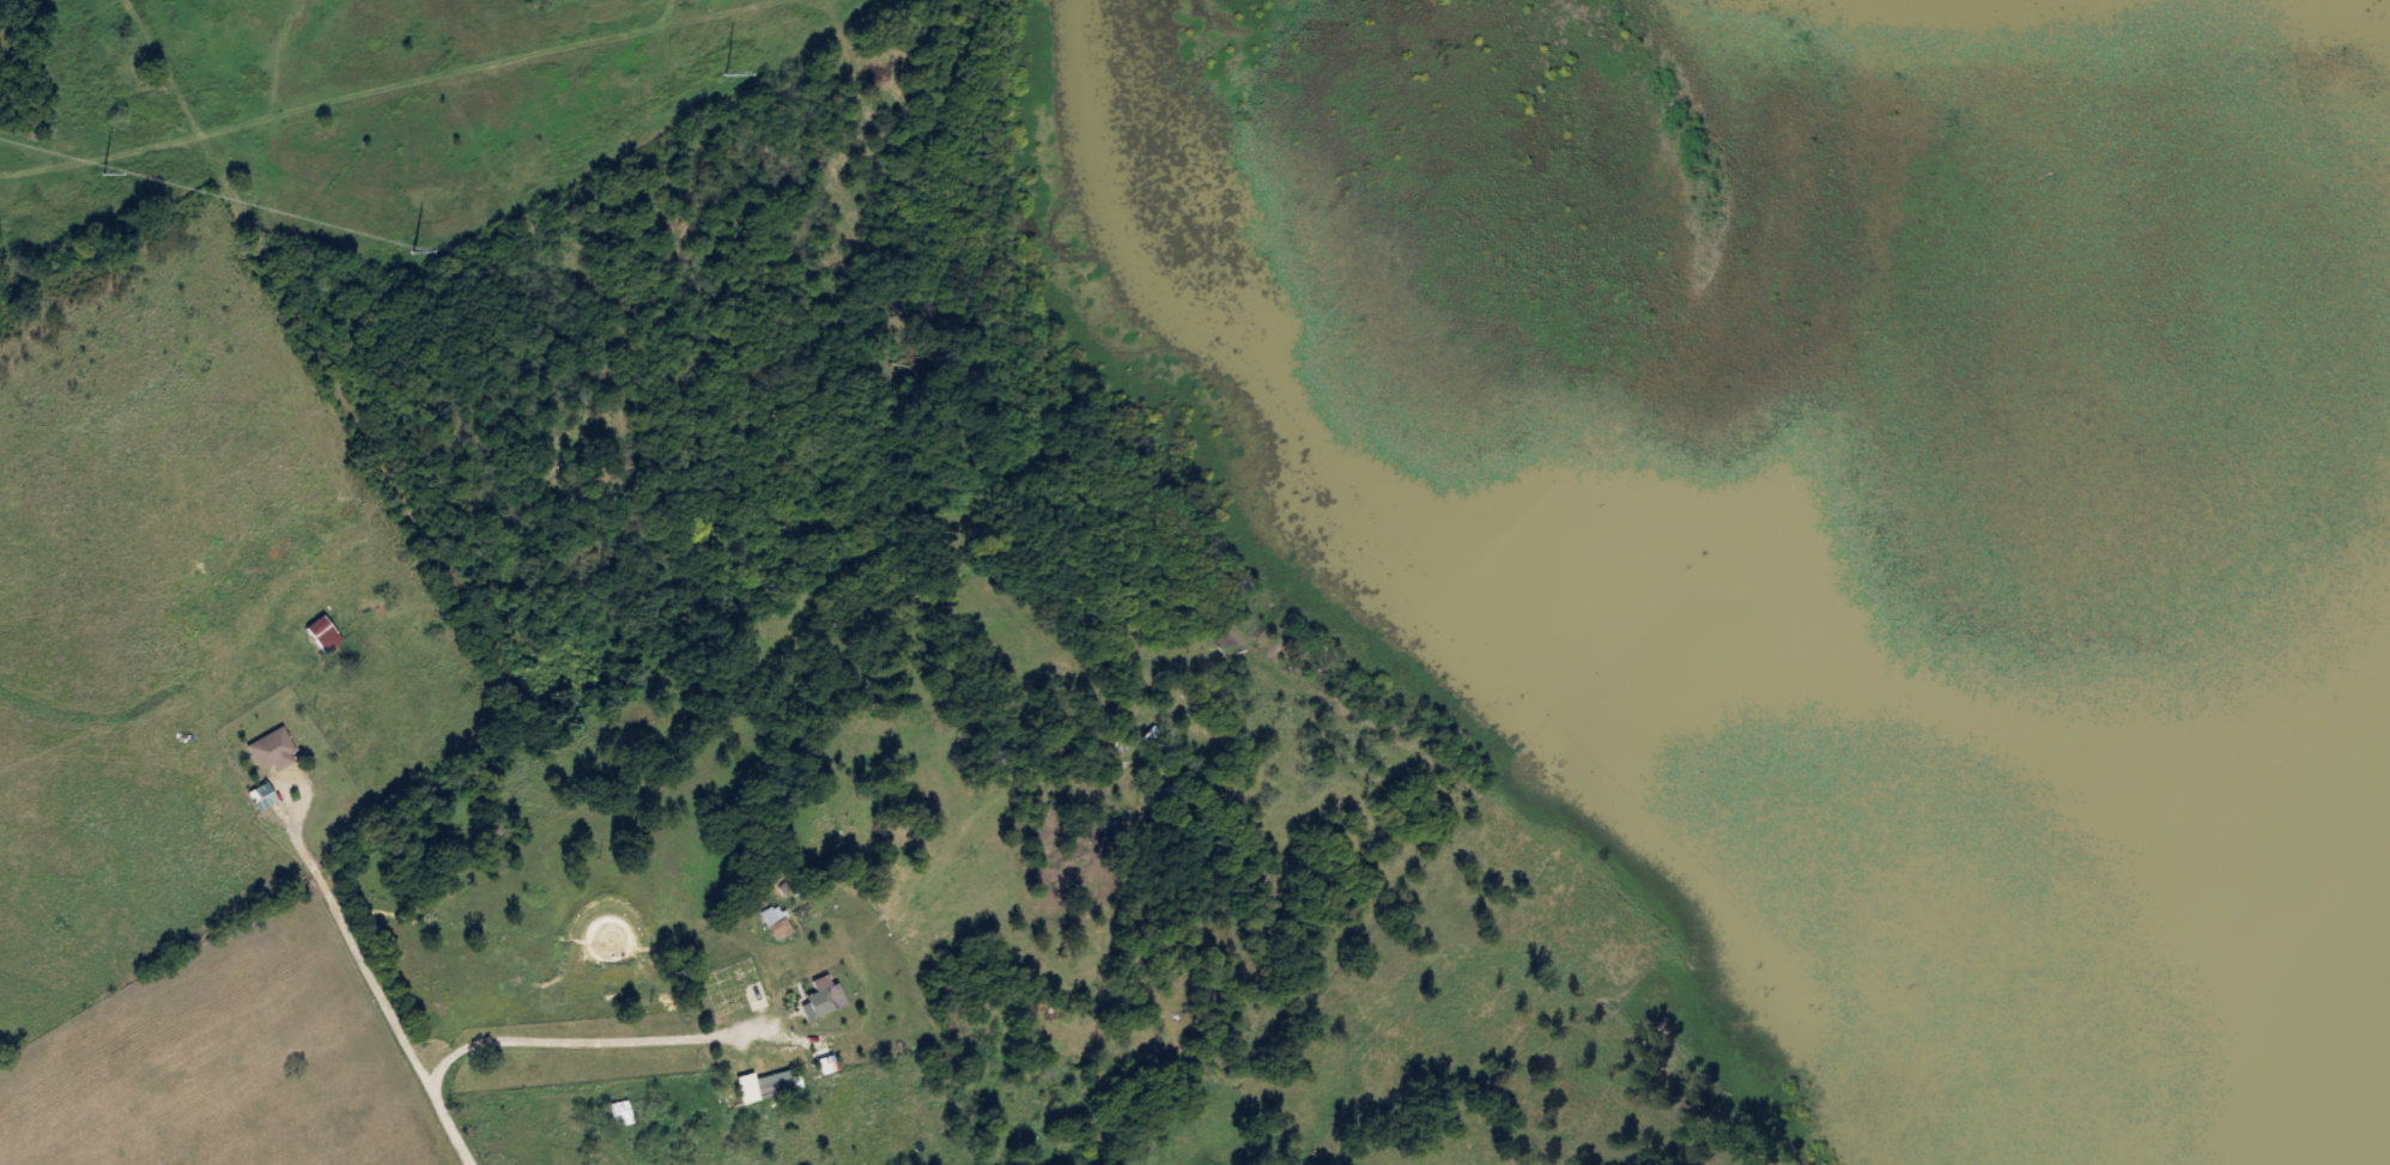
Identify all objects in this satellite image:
building: (319, 632)
building: (269, 750)
building: (732, 987)
building: (819, 1002)
road: (390, 1019)
road: (587, 1044)

